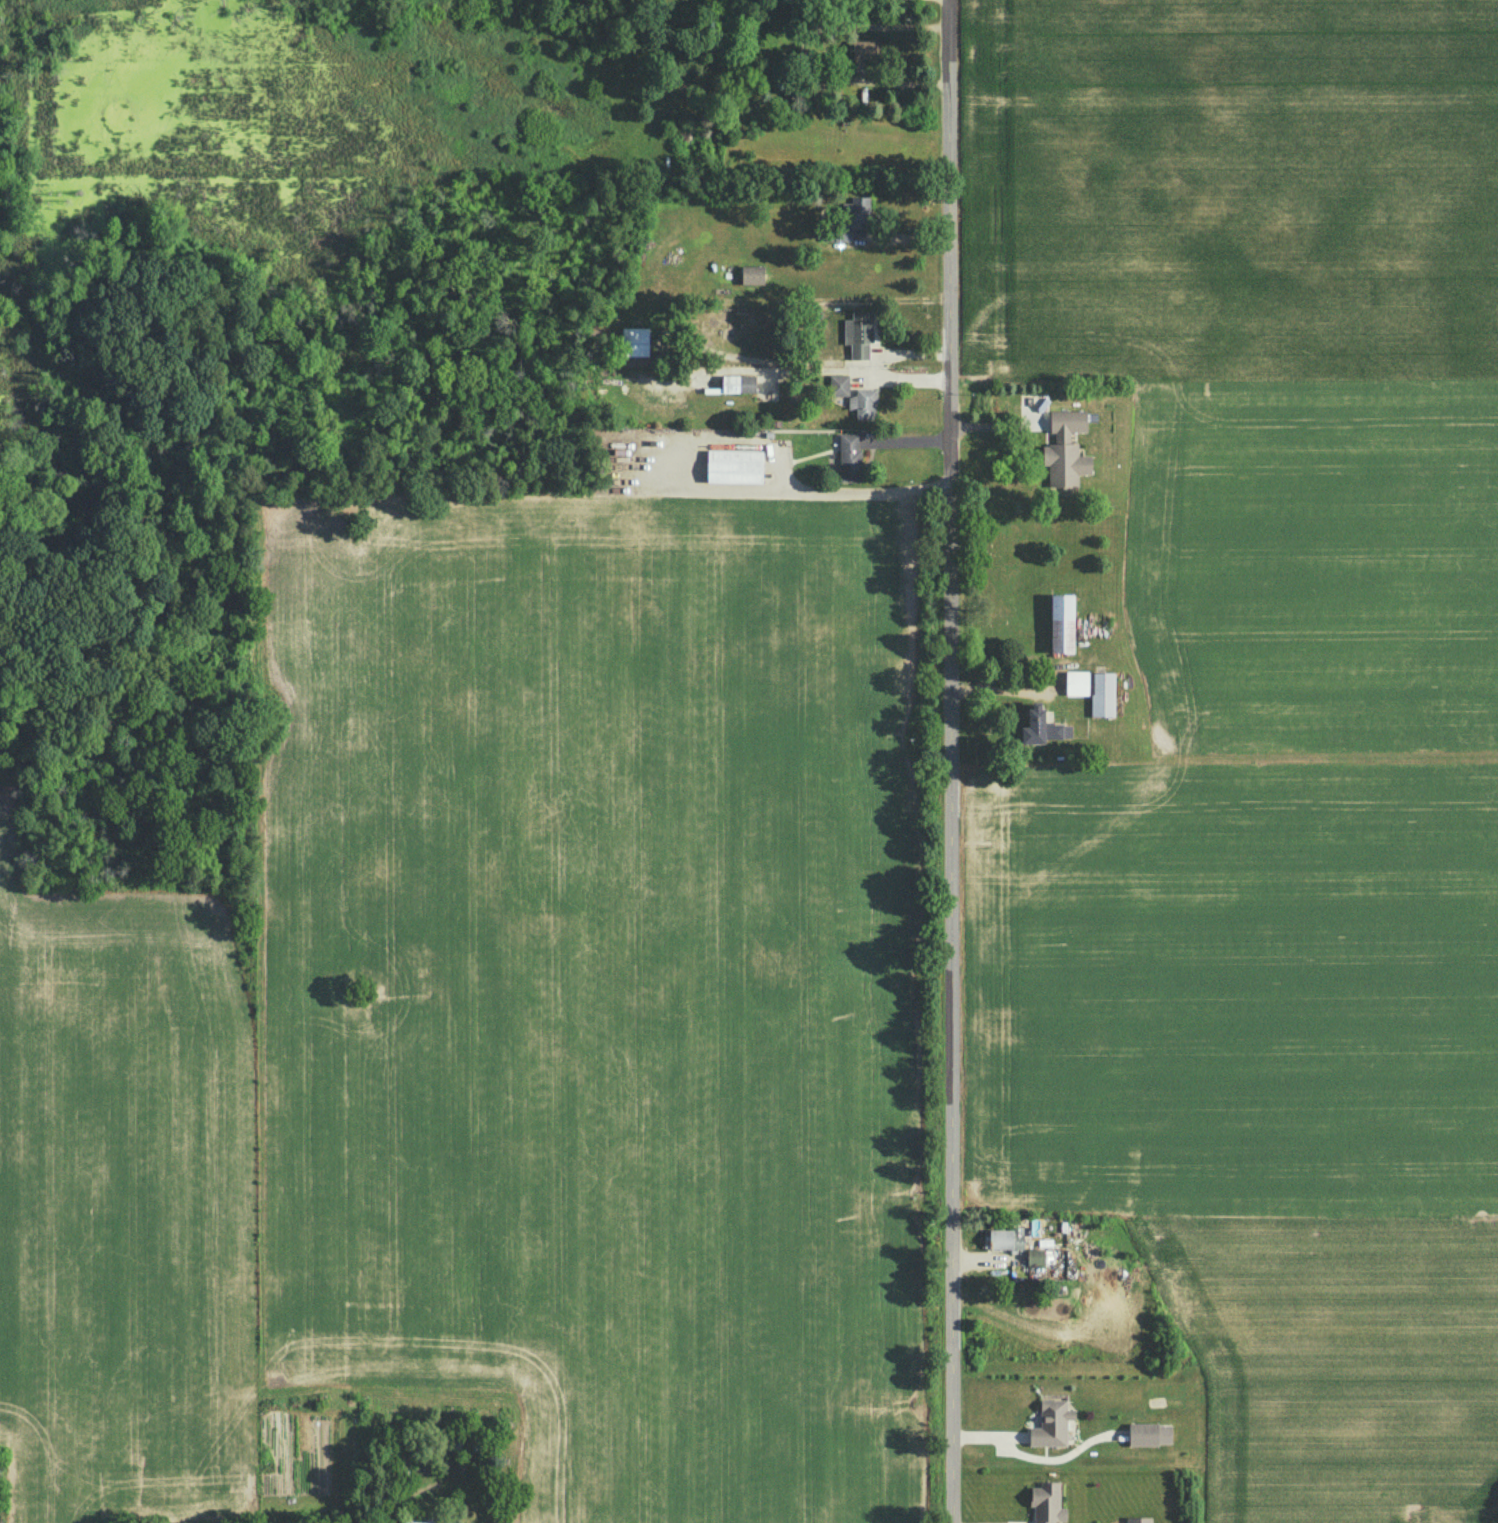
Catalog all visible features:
building: (865, 50)
building: (858, 334)
building: (635, 341)
road: (809, 363)
building: (738, 383)
building: (838, 384)
building: (863, 403)
road: (995, 423)
building: (1065, 448)
building: (849, 457)
building: (734, 466)
road: (798, 488)
building: (1061, 623)
building: (1076, 683)
building: (1102, 694)
building: (1039, 726)
road: (948, 761)
building: (1006, 1238)
building: (1034, 1256)
building: (1051, 1424)
building: (1149, 1434)
building: (1047, 1502)
building: (431, 1520)

